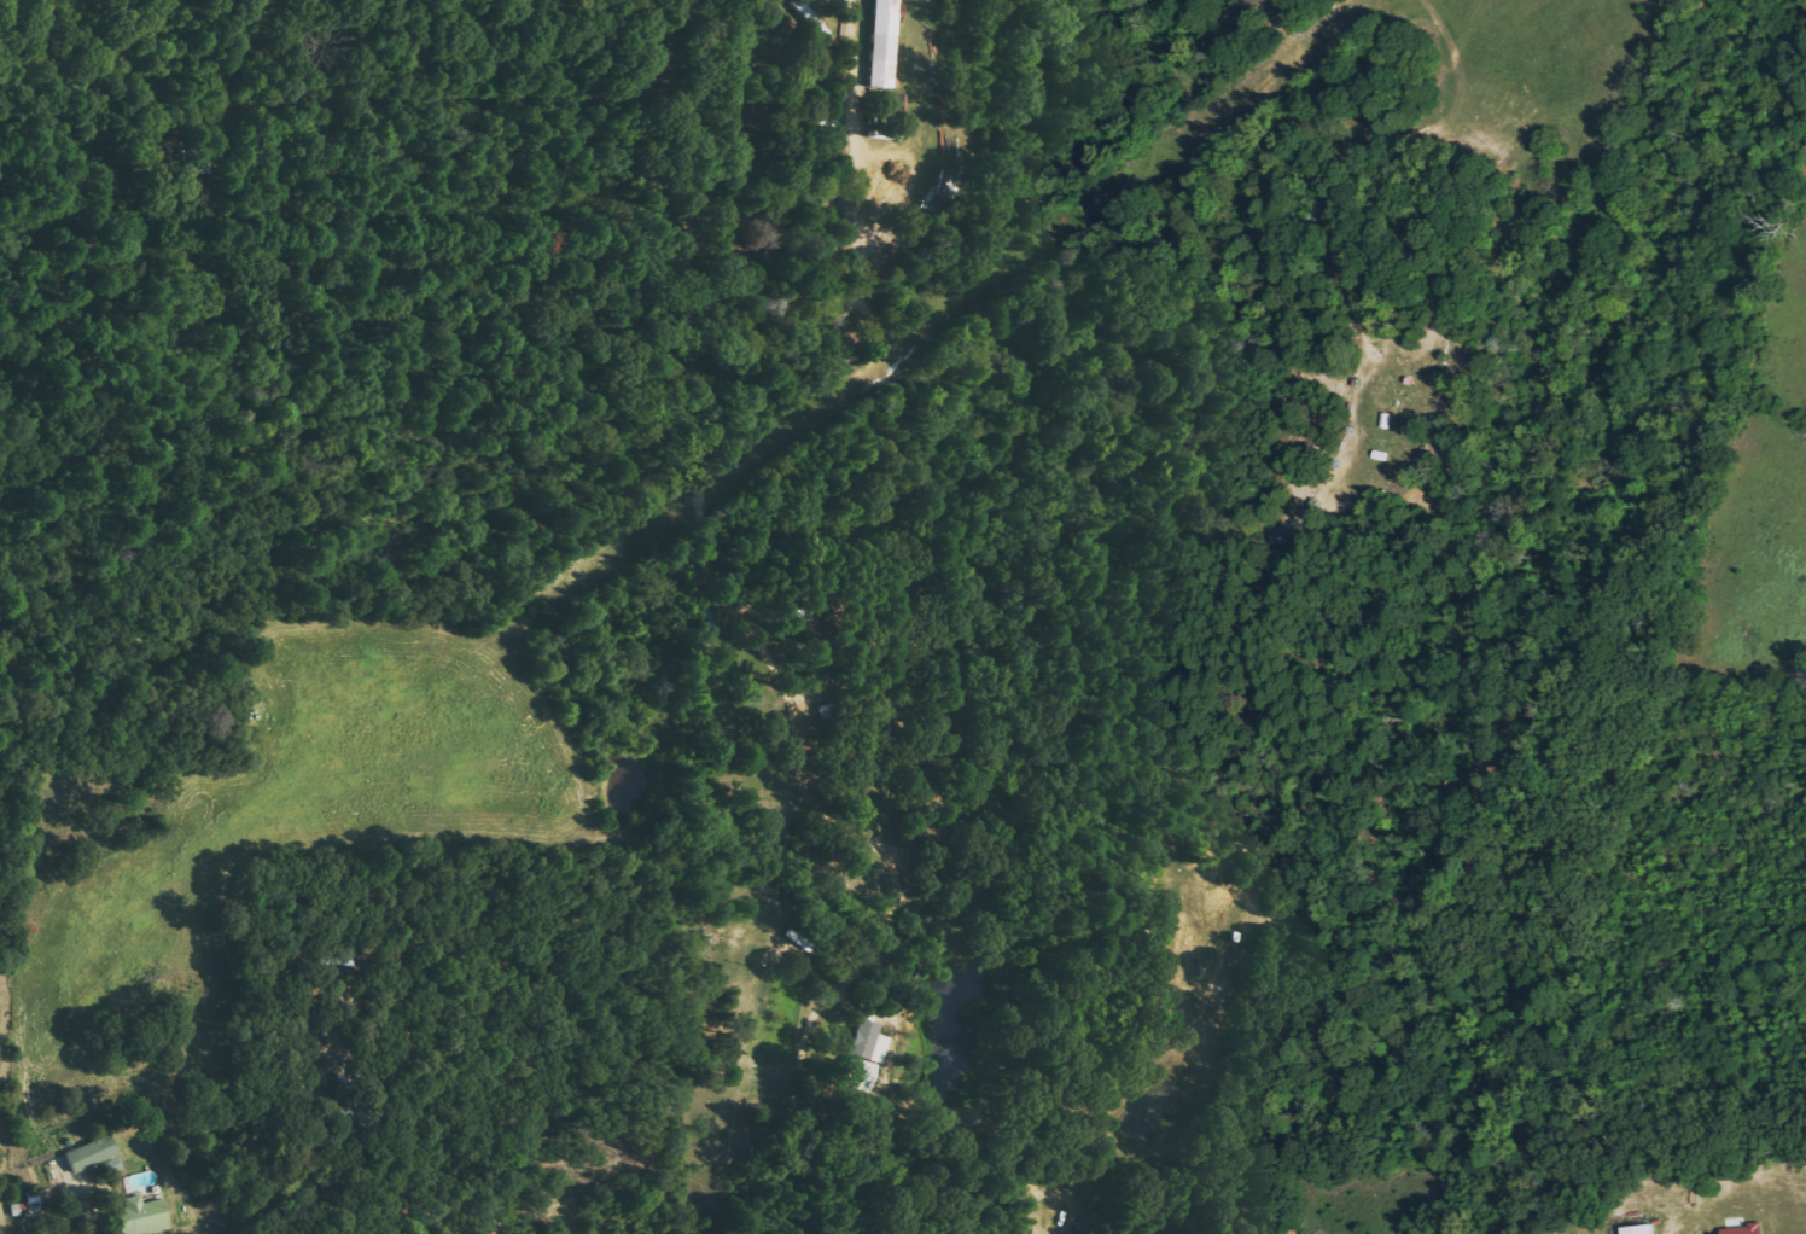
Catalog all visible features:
building: (880, 43)
building: (862, 1057)
building: (346, 1121)
building: (139, 1216)
building: (1637, 1229)
building: (1743, 1229)
building: (1123, 1233)

